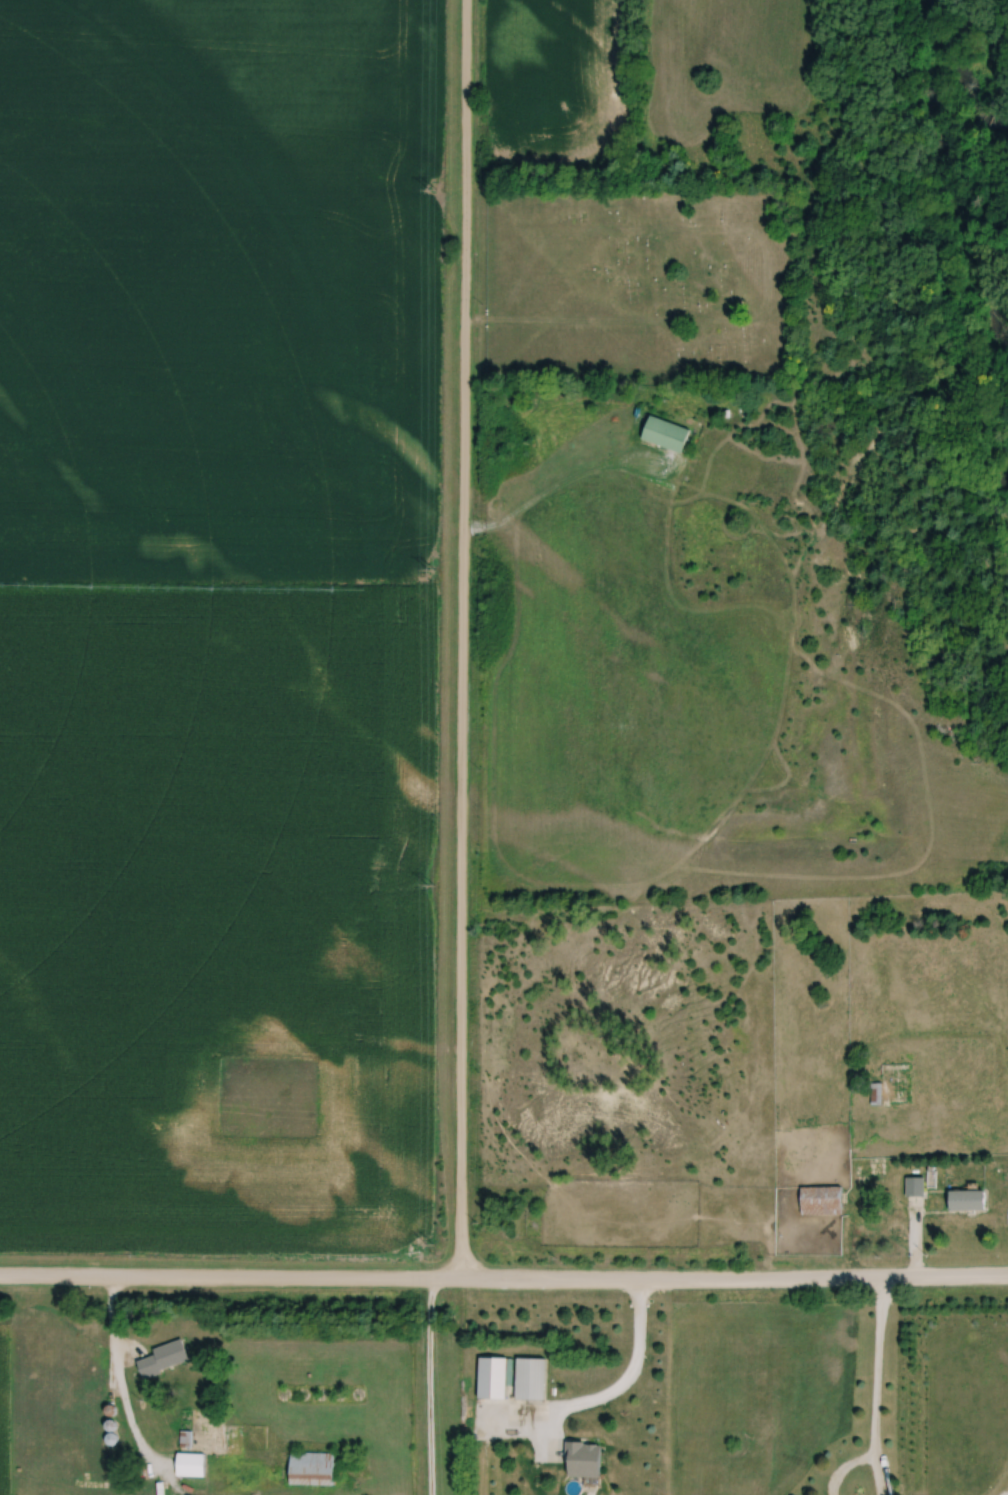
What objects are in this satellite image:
river: (925, 156)
power tower: (435, 183)
park: (634, 290)
building: (667, 434)
river: (1006, 481)
road: (567, 484)
power tower: (433, 568)
road: (459, 639)
power tower: (431, 885)
building: (894, 1084)
building: (916, 1188)
building: (824, 1201)
building: (969, 1202)
power tower: (431, 1240)
road: (503, 1279)
building: (166, 1358)
building: (494, 1378)
road: (622, 1378)
building: (532, 1379)
road: (120, 1383)
road: (430, 1386)
road: (875, 1387)
building: (586, 1458)
building: (193, 1464)
building: (314, 1468)

